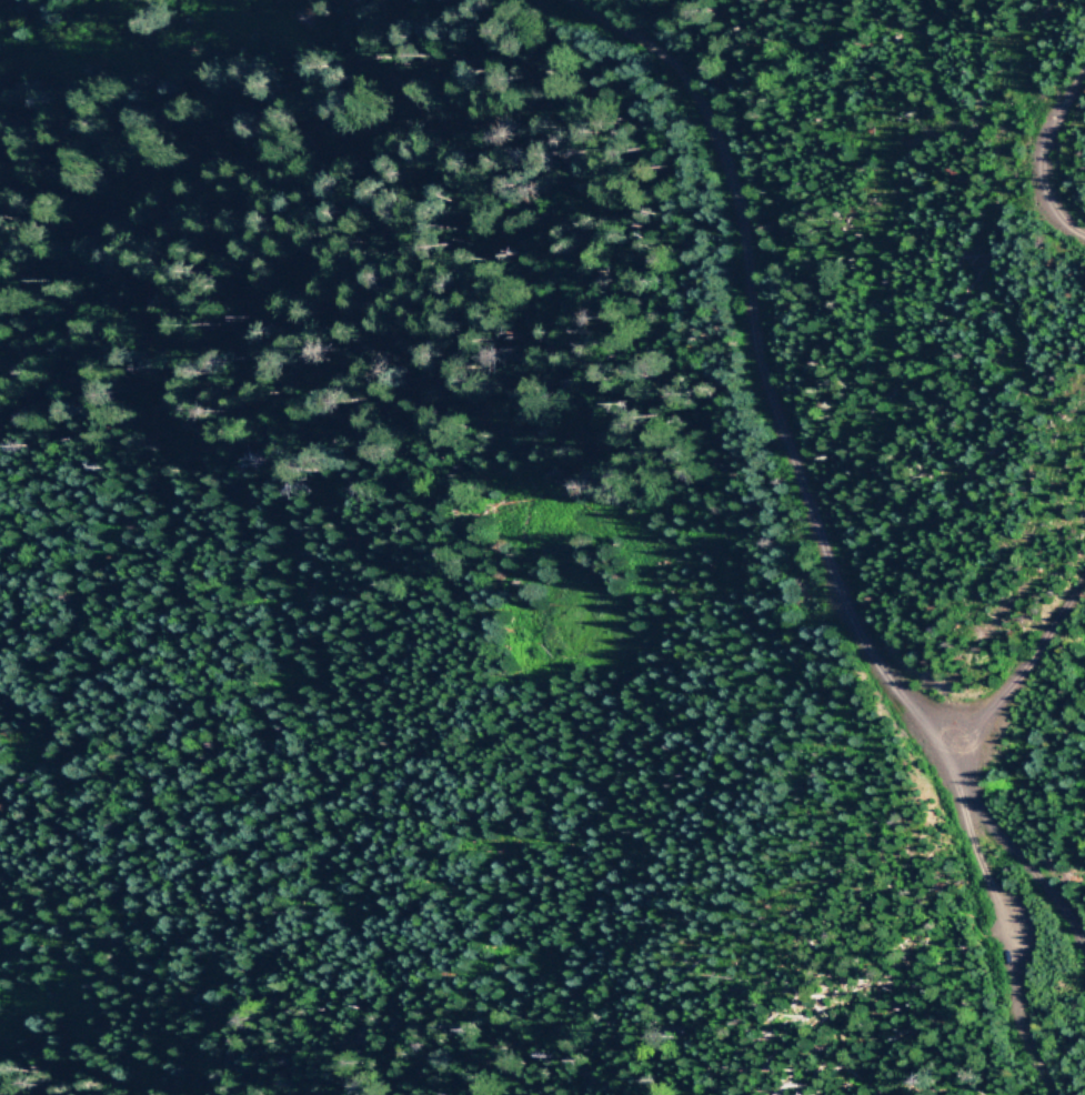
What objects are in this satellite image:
road: (1033, 149)
road: (756, 379)
road: (1033, 652)
road: (1011, 858)
road: (853, 877)
road: (983, 914)
parking lot: (998, 932)

